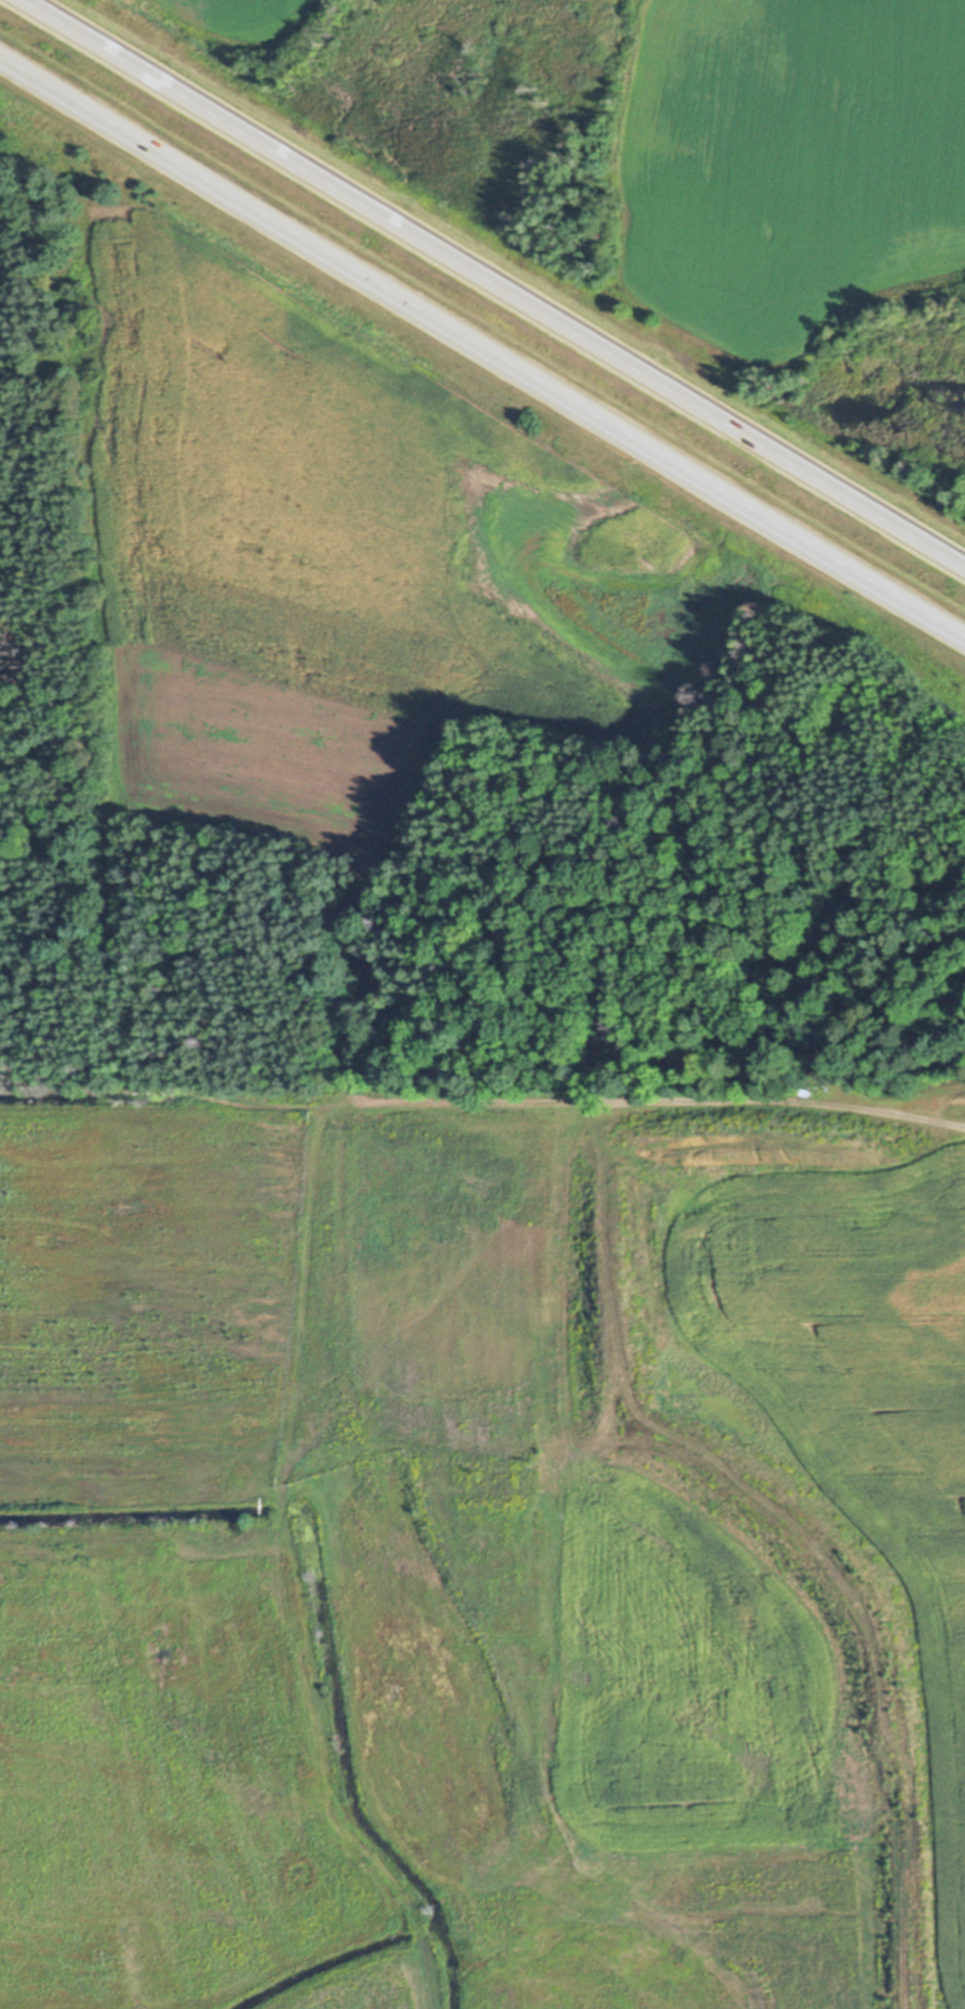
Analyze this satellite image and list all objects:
road: (494, 283)
road: (482, 347)
building: (606, 1037)
road: (279, 1247)

